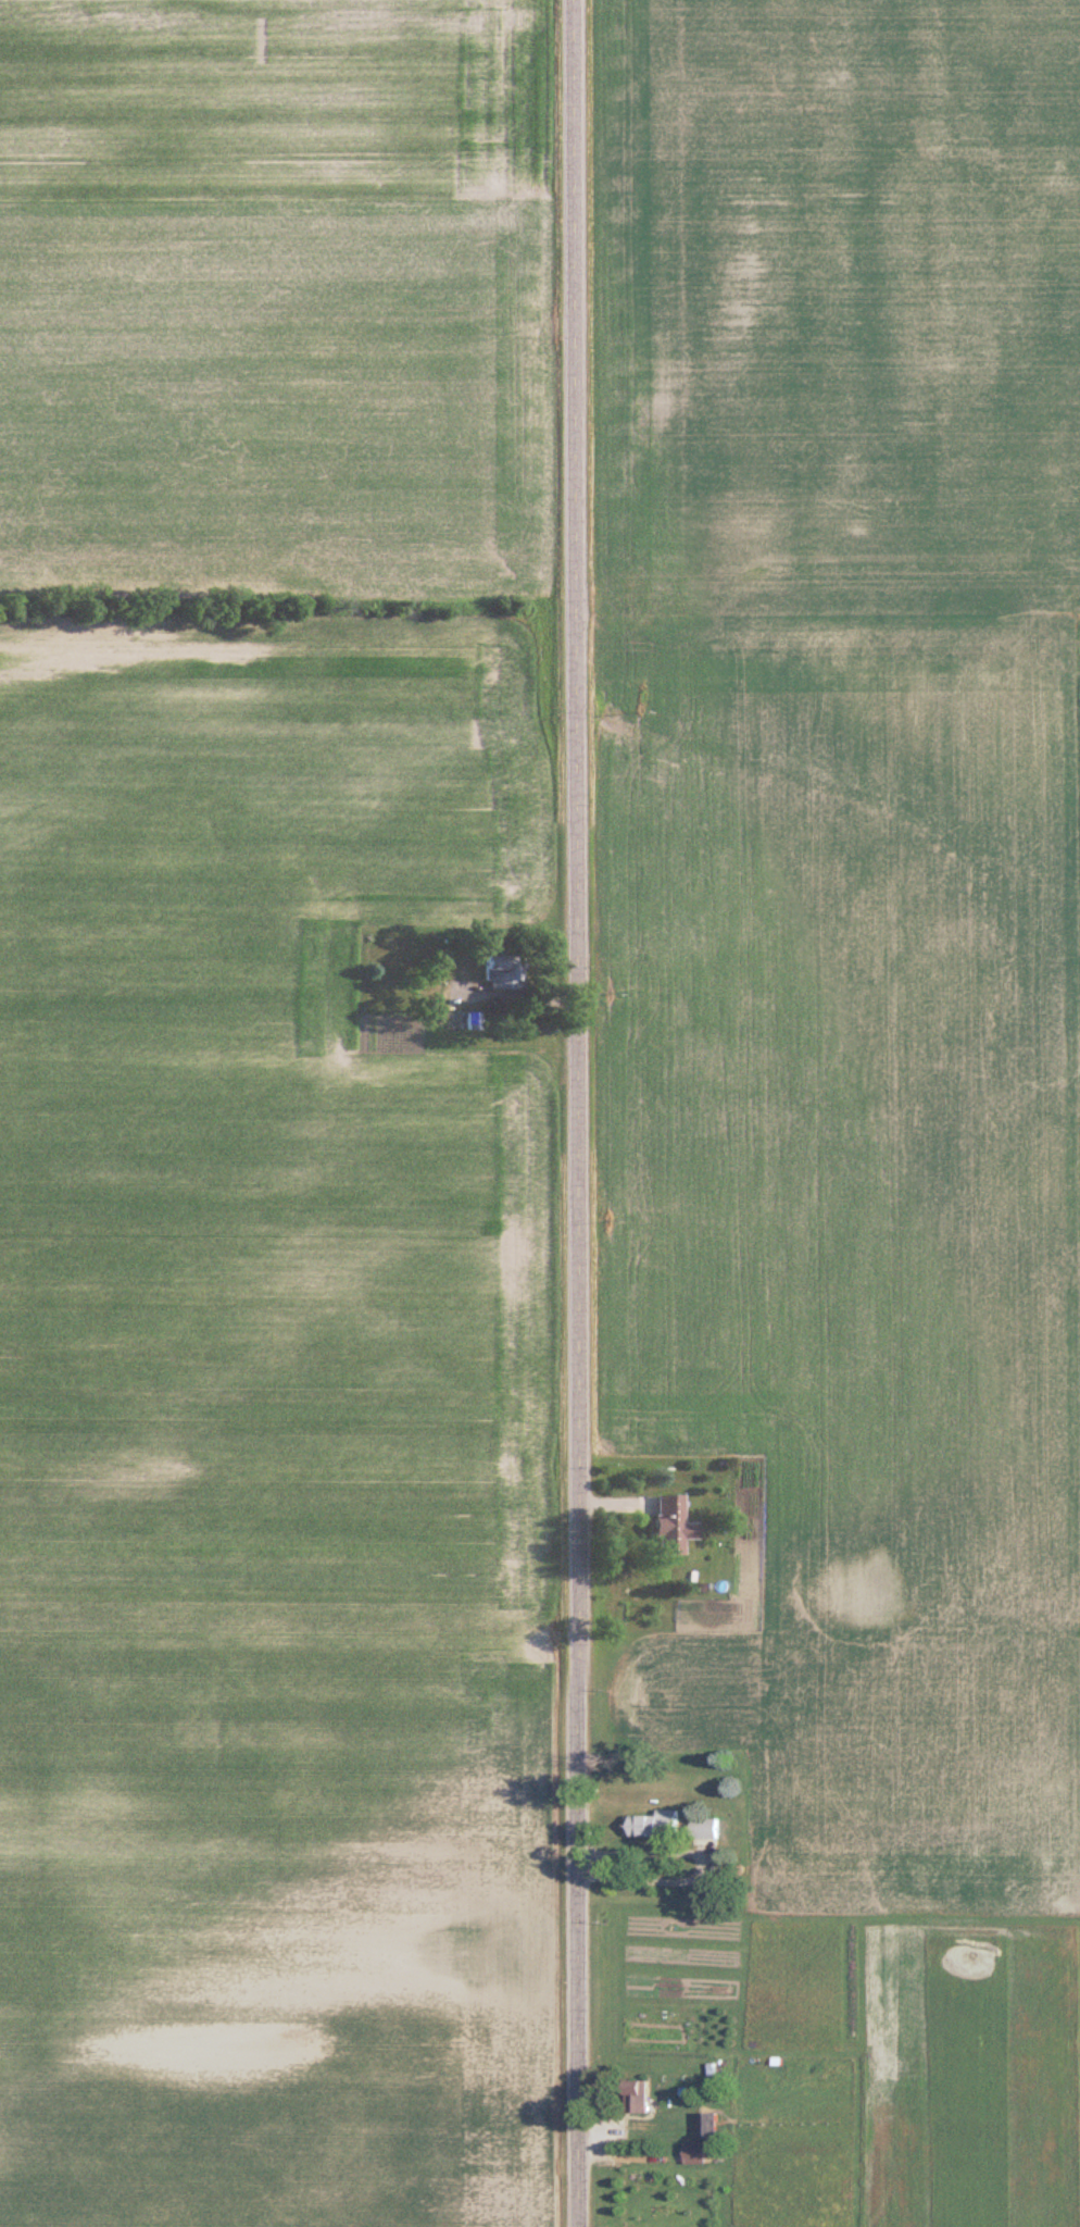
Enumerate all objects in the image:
building: (498, 970)
building: (461, 1020)
road: (576, 1113)
building: (662, 1523)
building: (652, 1825)
building: (704, 1828)
road: (696, 1864)
building: (632, 2097)
building: (692, 2153)
road: (1063, 2181)

